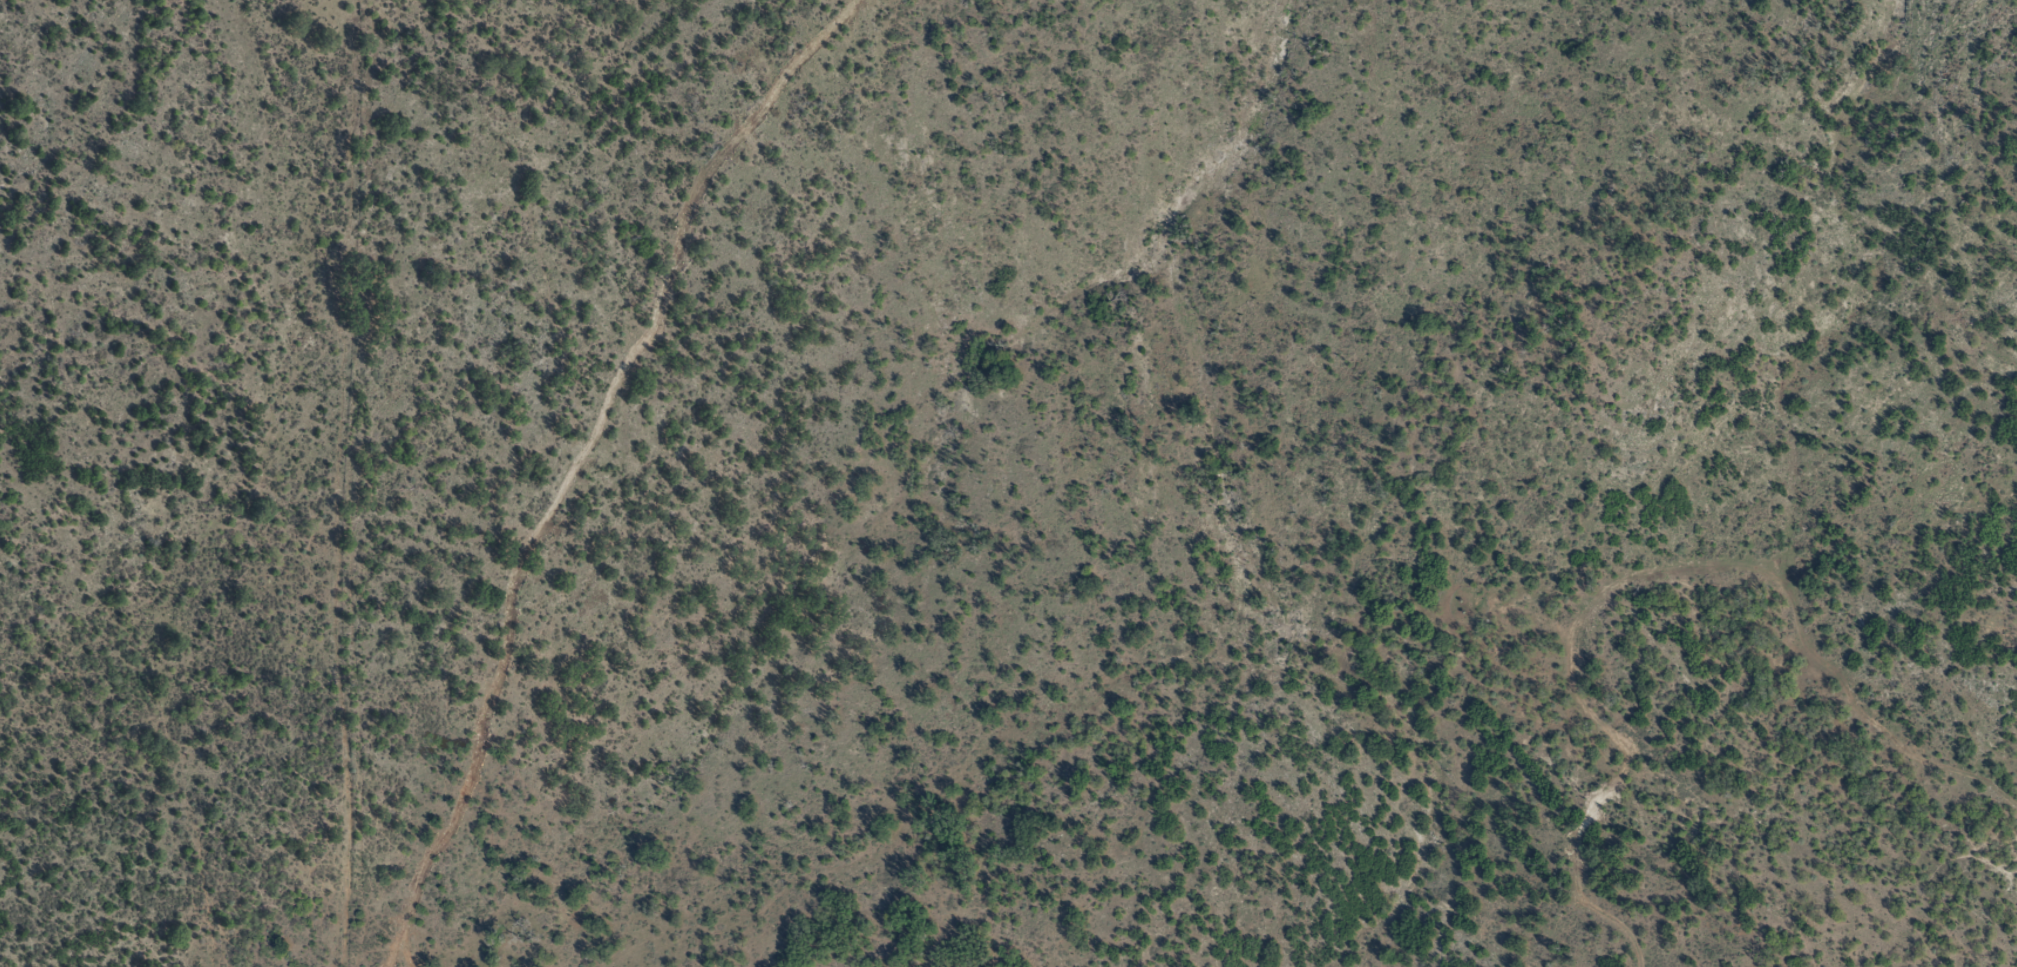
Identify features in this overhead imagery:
road: (1669, 601)

